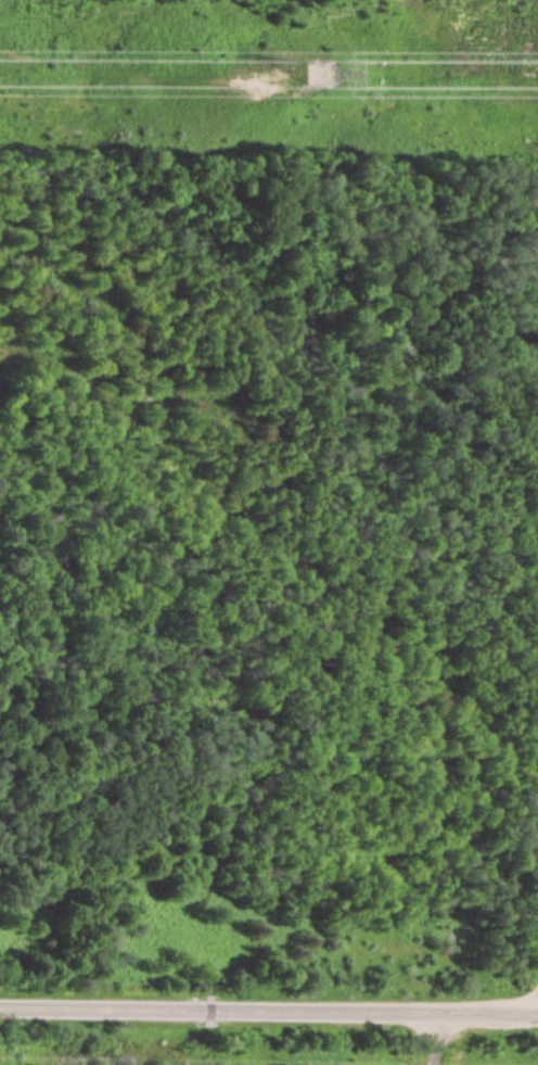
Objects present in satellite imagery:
power tower: (338, 67)
road: (268, 1012)
road: (434, 1039)

